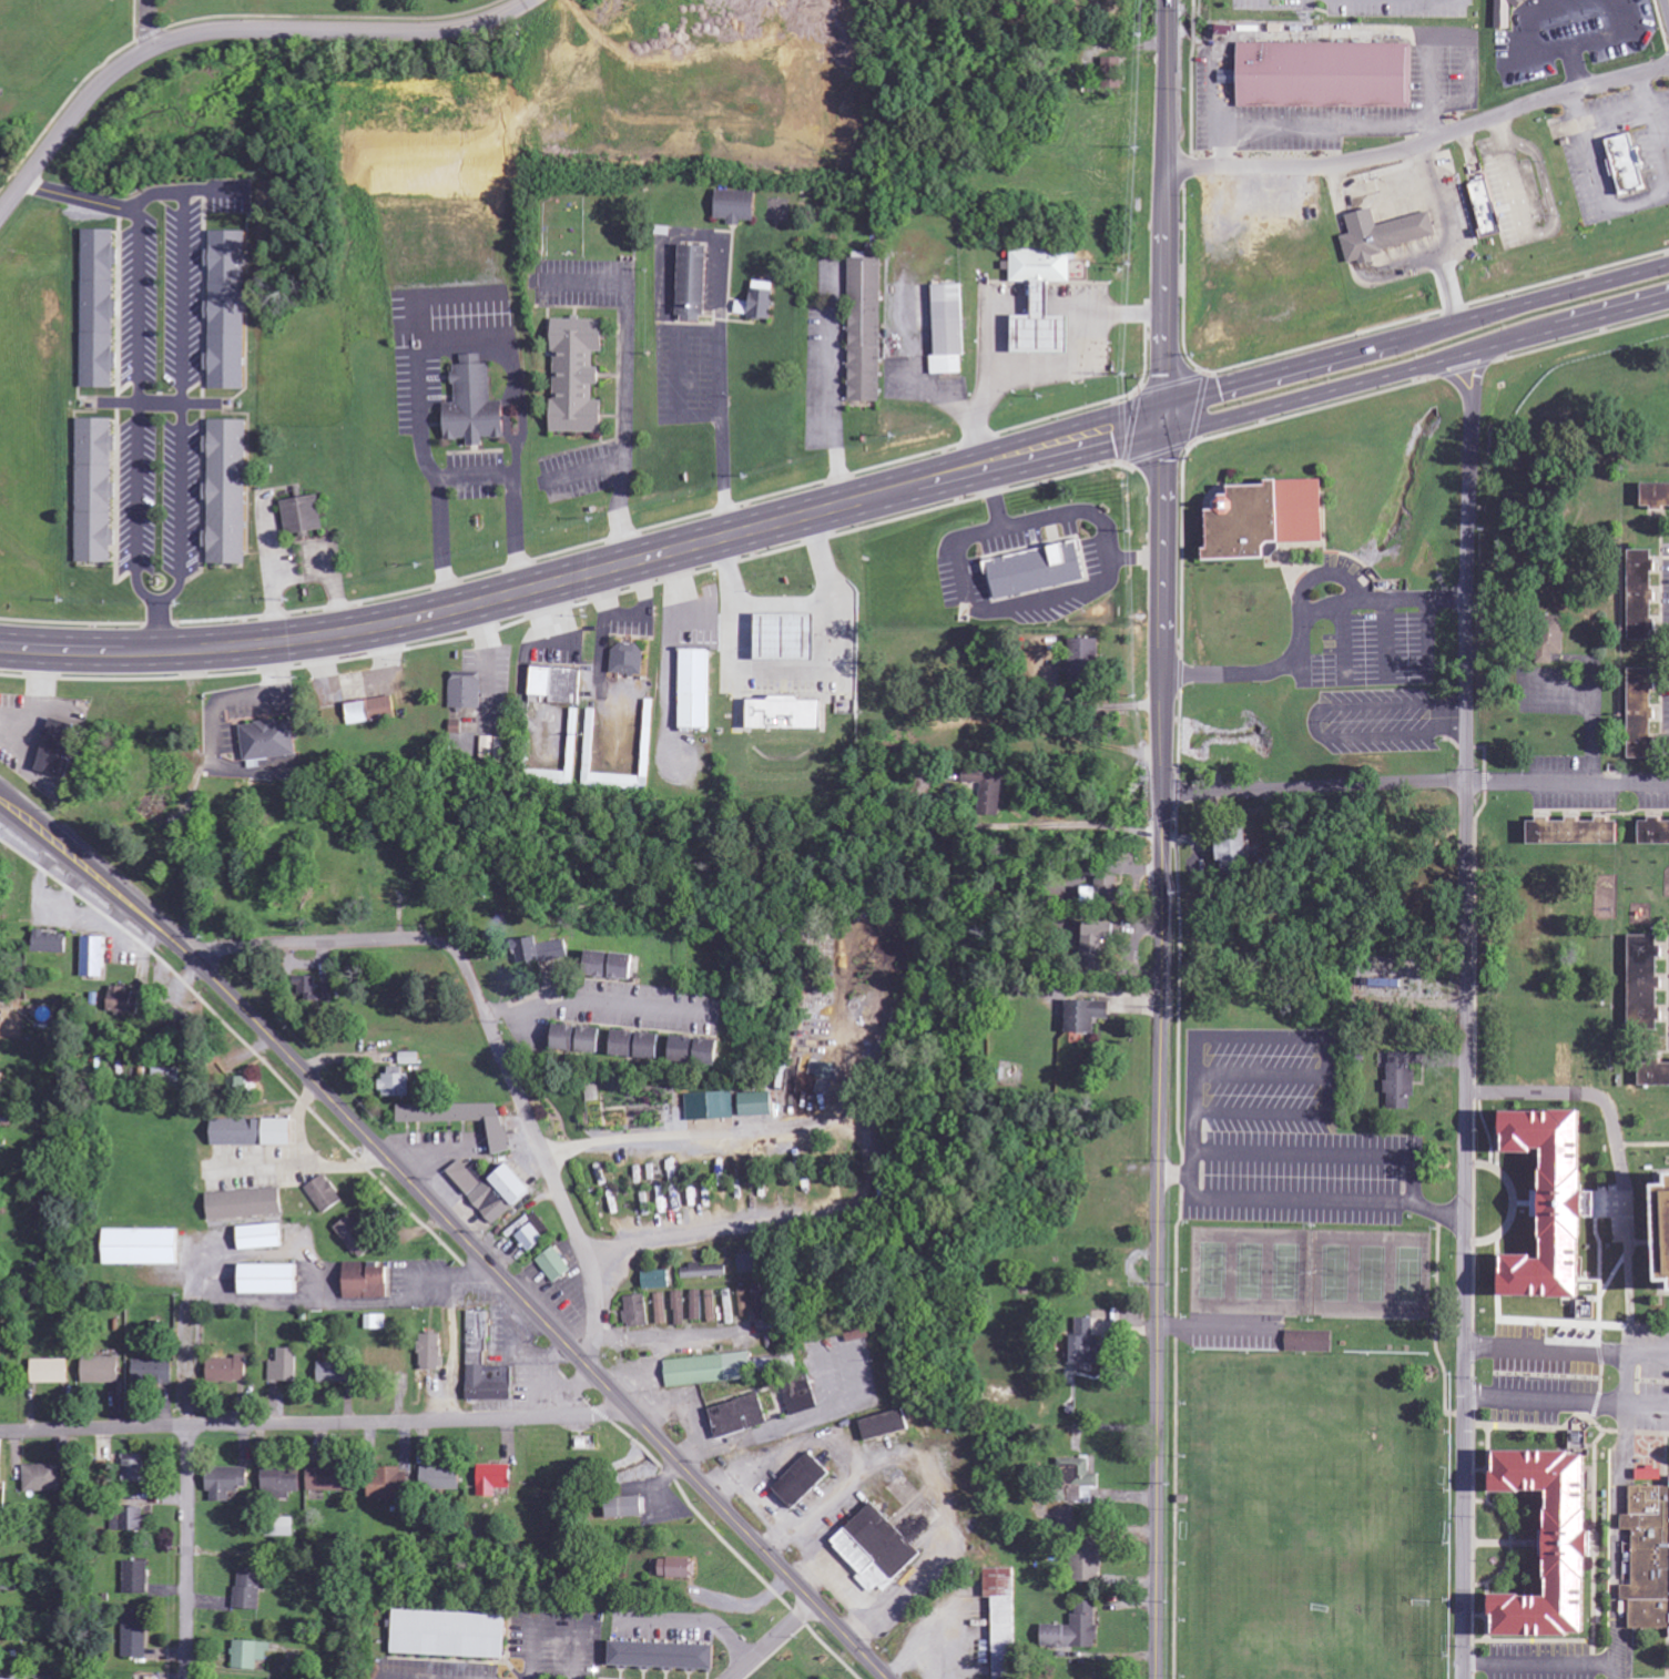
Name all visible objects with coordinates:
road: (1668, 3)
building: (1505, 14)
road: (146, 27)
road: (232, 33)
building: (1112, 72)
building: (1326, 74)
road: (1422, 146)
building: (1628, 164)
building: (736, 206)
road: (1164, 208)
building: (1488, 208)
building: (1385, 234)
building: (693, 282)
building: (763, 298)
building: (100, 308)
building: (228, 309)
building: (949, 328)
building: (866, 329)
building: (1044, 334)
building: (578, 375)
building: (475, 404)
road: (180, 406)
traffic signals: (1164, 419)
building: (95, 490)
building: (227, 491)
building: (1657, 495)
road: (841, 506)
building: (303, 515)
building: (1271, 518)
building: (1038, 570)
building: (1645, 596)
road: (1164, 606)
building: (788, 638)
building: (1554, 647)
building: (629, 659)
building: (1088, 660)
building: (558, 684)
building: (696, 689)
building: (466, 692)
building: (372, 711)
building: (787, 713)
building: (1645, 713)
building: (269, 740)
building: (60, 746)
building: (495, 749)
building: (613, 781)
road: (1416, 783)
building: (989, 790)
building: (1577, 832)
building: (1656, 832)
building: (1238, 856)
building: (1537, 910)
building: (50, 942)
building: (1098, 942)
road: (314, 943)
building: (539, 950)
building: (93, 957)
building: (612, 965)
building: (1648, 983)
building: (314, 990)
building: (125, 1001)
road: (600, 1001)
road: (1464, 1007)
building: (1086, 1016)
building: (580, 1039)
building: (639, 1045)
building: (696, 1051)
building: (1656, 1075)
building: (396, 1082)
building: (1401, 1083)
building: (757, 1105)
building: (710, 1107)
building: (460, 1118)
road: (714, 1127)
road: (532, 1130)
building: (254, 1132)
building: (513, 1186)
building: (480, 1191)
building: (324, 1194)
building: (245, 1204)
building: (1559, 1204)
building: (1663, 1210)
road: (457, 1225)
building: (528, 1234)
road: (1160, 1235)
building: (262, 1237)
building: (355, 1237)
building: (142, 1248)
road: (674, 1251)
building: (750, 1264)
building: (553, 1265)
building: (705, 1272)
building: (272, 1280)
building: (367, 1281)
building: (657, 1281)
building: (744, 1302)
building: (759, 1302)
building: (696, 1305)
building: (711, 1306)
building: (729, 1307)
building: (661, 1310)
building: (679, 1310)
building: (635, 1312)
building: (1310, 1342)
building: (1087, 1344)
road: (1566, 1350)
building: (431, 1352)
building: (485, 1364)
building: (284, 1367)
building: (721, 1368)
building: (102, 1370)
building: (228, 1370)
building: (1313, 1370)
building: (50, 1372)
building: (154, 1372)
building: (337, 1373)
building: (801, 1395)
road: (1566, 1401)
building: (739, 1416)
road: (319, 1424)
building: (885, 1425)
building: (135, 1471)
building: (0, 1478)
building: (42, 1478)
building: (441, 1478)
building: (1077, 1478)
building: (333, 1479)
building: (493, 1479)
building: (283, 1480)
building: (802, 1482)
building: (226, 1483)
building: (388, 1485)
building: (625, 1507)
road: (1620, 1509)
park: (1307, 1516)
building: (129, 1520)
building: (1559, 1547)
building: (876, 1549)
road: (185, 1554)
building: (1649, 1559)
building: (1089, 1567)
building: (676, 1568)
building: (136, 1578)
building: (251, 1590)
building: (1003, 1620)
building: (1073, 1630)
building: (450, 1635)
building: (135, 1636)
building: (250, 1655)
building: (664, 1657)
road: (1545, 1666)

